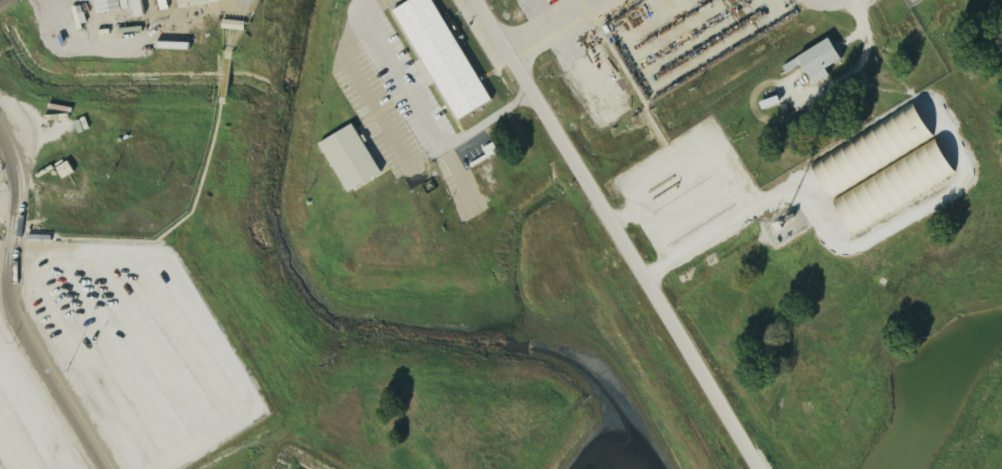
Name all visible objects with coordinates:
road: (0, 0)
building: (123, 6)
building: (186, 6)
building: (439, 56)
building: (825, 62)
building: (877, 150)
building: (354, 159)
building: (485, 177)
building: (899, 186)
power plant: (459, 220)
road: (619, 234)
building: (422, 241)
road: (13, 306)

